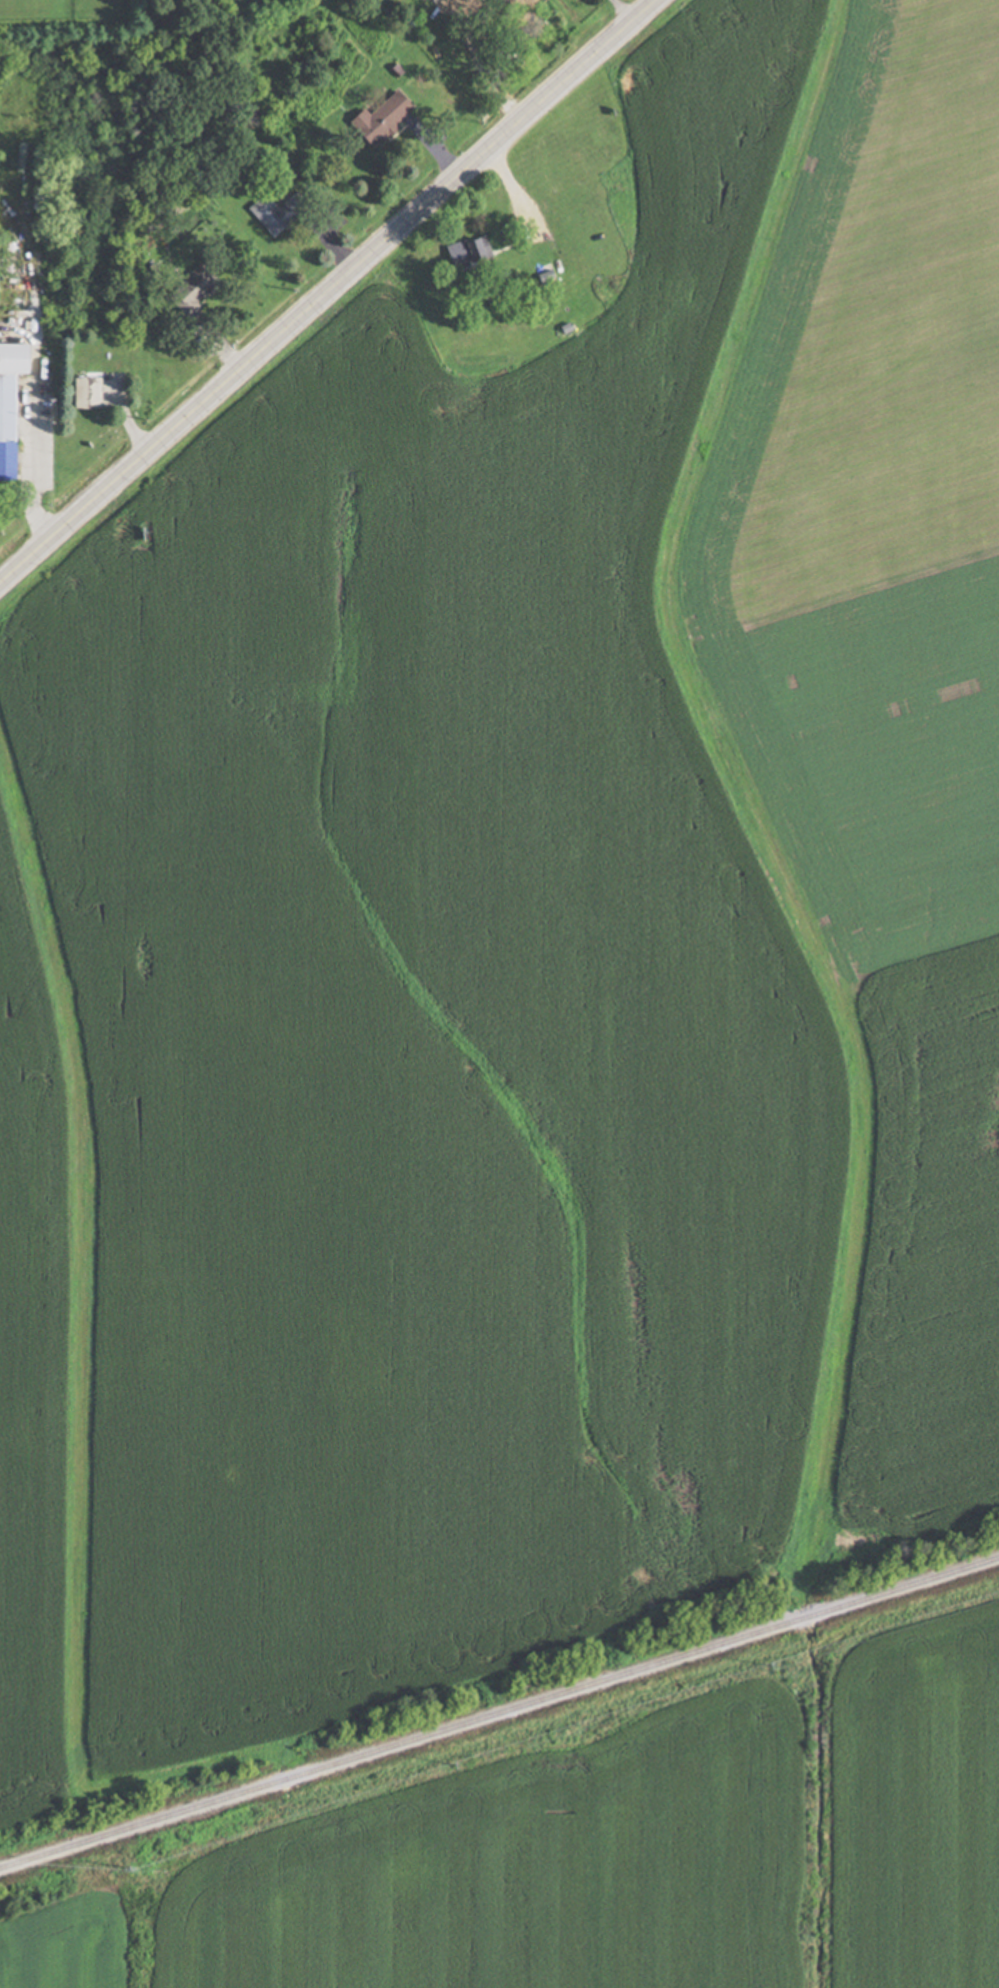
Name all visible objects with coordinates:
road: (632, 8)
building: (377, 119)
building: (265, 215)
building: (466, 252)
building: (185, 291)
road: (329, 291)
building: (85, 393)
building: (9, 402)
road: (37, 441)
railway: (499, 1712)

